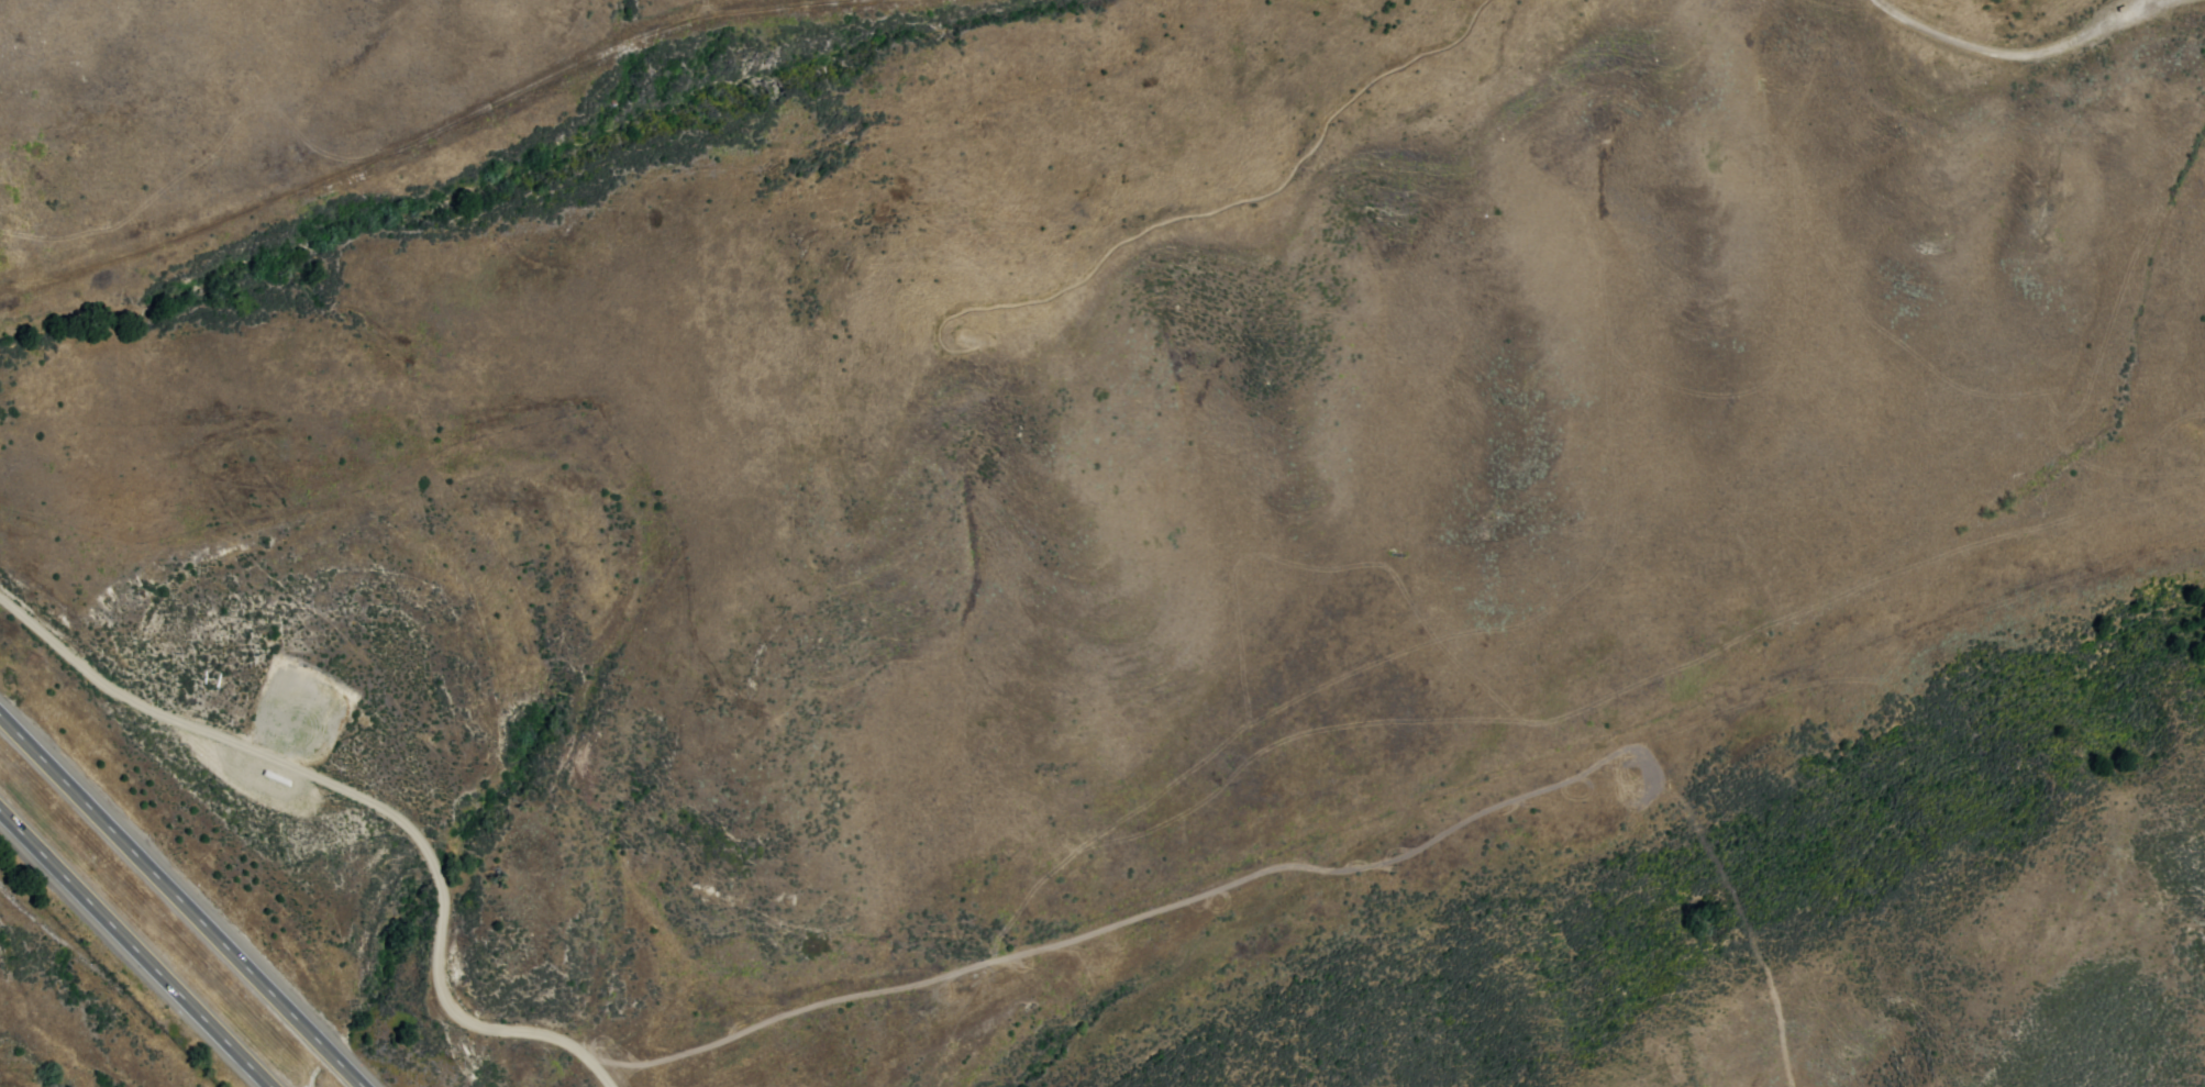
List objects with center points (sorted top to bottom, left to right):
road: (2021, 53)
road: (367, 810)
road: (180, 900)
road: (135, 947)

